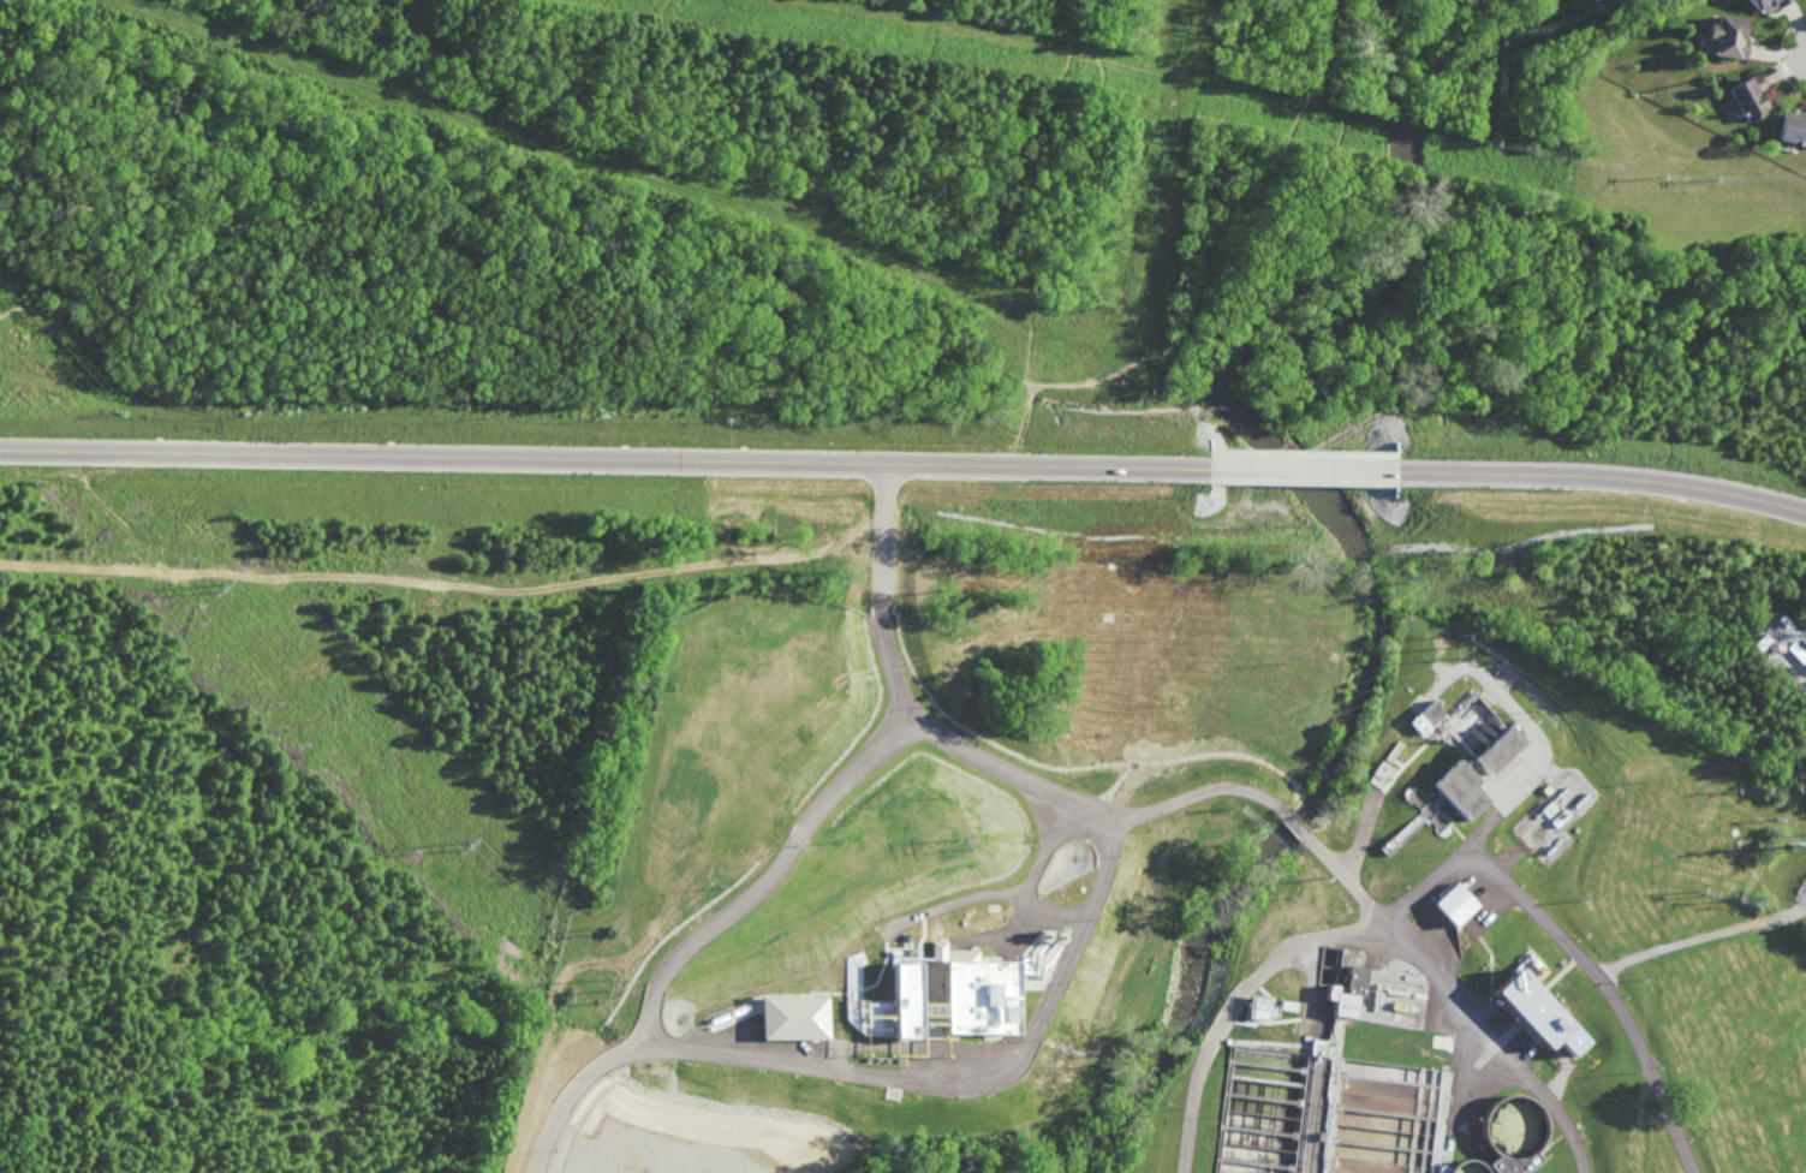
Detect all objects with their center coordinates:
building: (1768, 4)
road: (342, 14)
road: (931, 14)
road: (1002, 20)
building: (1725, 36)
road: (1037, 48)
road: (959, 79)
building: (1748, 96)
road: (1096, 113)
road: (908, 123)
building: (1793, 129)
road: (747, 131)
road: (29, 147)
road: (191, 157)
road: (793, 163)
road: (549, 189)
park: (684, 209)
road: (780, 218)
road: (1037, 228)
road: (1218, 239)
road: (652, 286)
road: (399, 326)
road: (1030, 359)
road: (1025, 419)
road: (1304, 452)
road: (1013, 457)
road: (603, 460)
road: (1304, 469)
road: (1603, 475)
road: (883, 525)
road: (445, 584)
power tower: (216, 593)
power tower: (1461, 648)
building: (1426, 718)
road: (1537, 746)
building: (1497, 750)
building: (1379, 774)
building: (1459, 790)
road: (1197, 792)
road: (1297, 827)
wastewater plant: (1203, 844)
power tower: (965, 846)
power tower: (1792, 849)
power tower: (466, 855)
road: (1030, 876)
road: (770, 879)
road: (1341, 879)
power substation: (1801, 895)
building: (1454, 904)
road: (1455, 983)
power tower: (606, 987)
building: (1347, 992)
building: (977, 993)
road: (1239, 999)
building: (907, 1000)
building: (1262, 1008)
road: (1620, 1011)
building: (1540, 1012)
building: (794, 1017)
road: (1030, 1037)
building: (1514, 1163)

